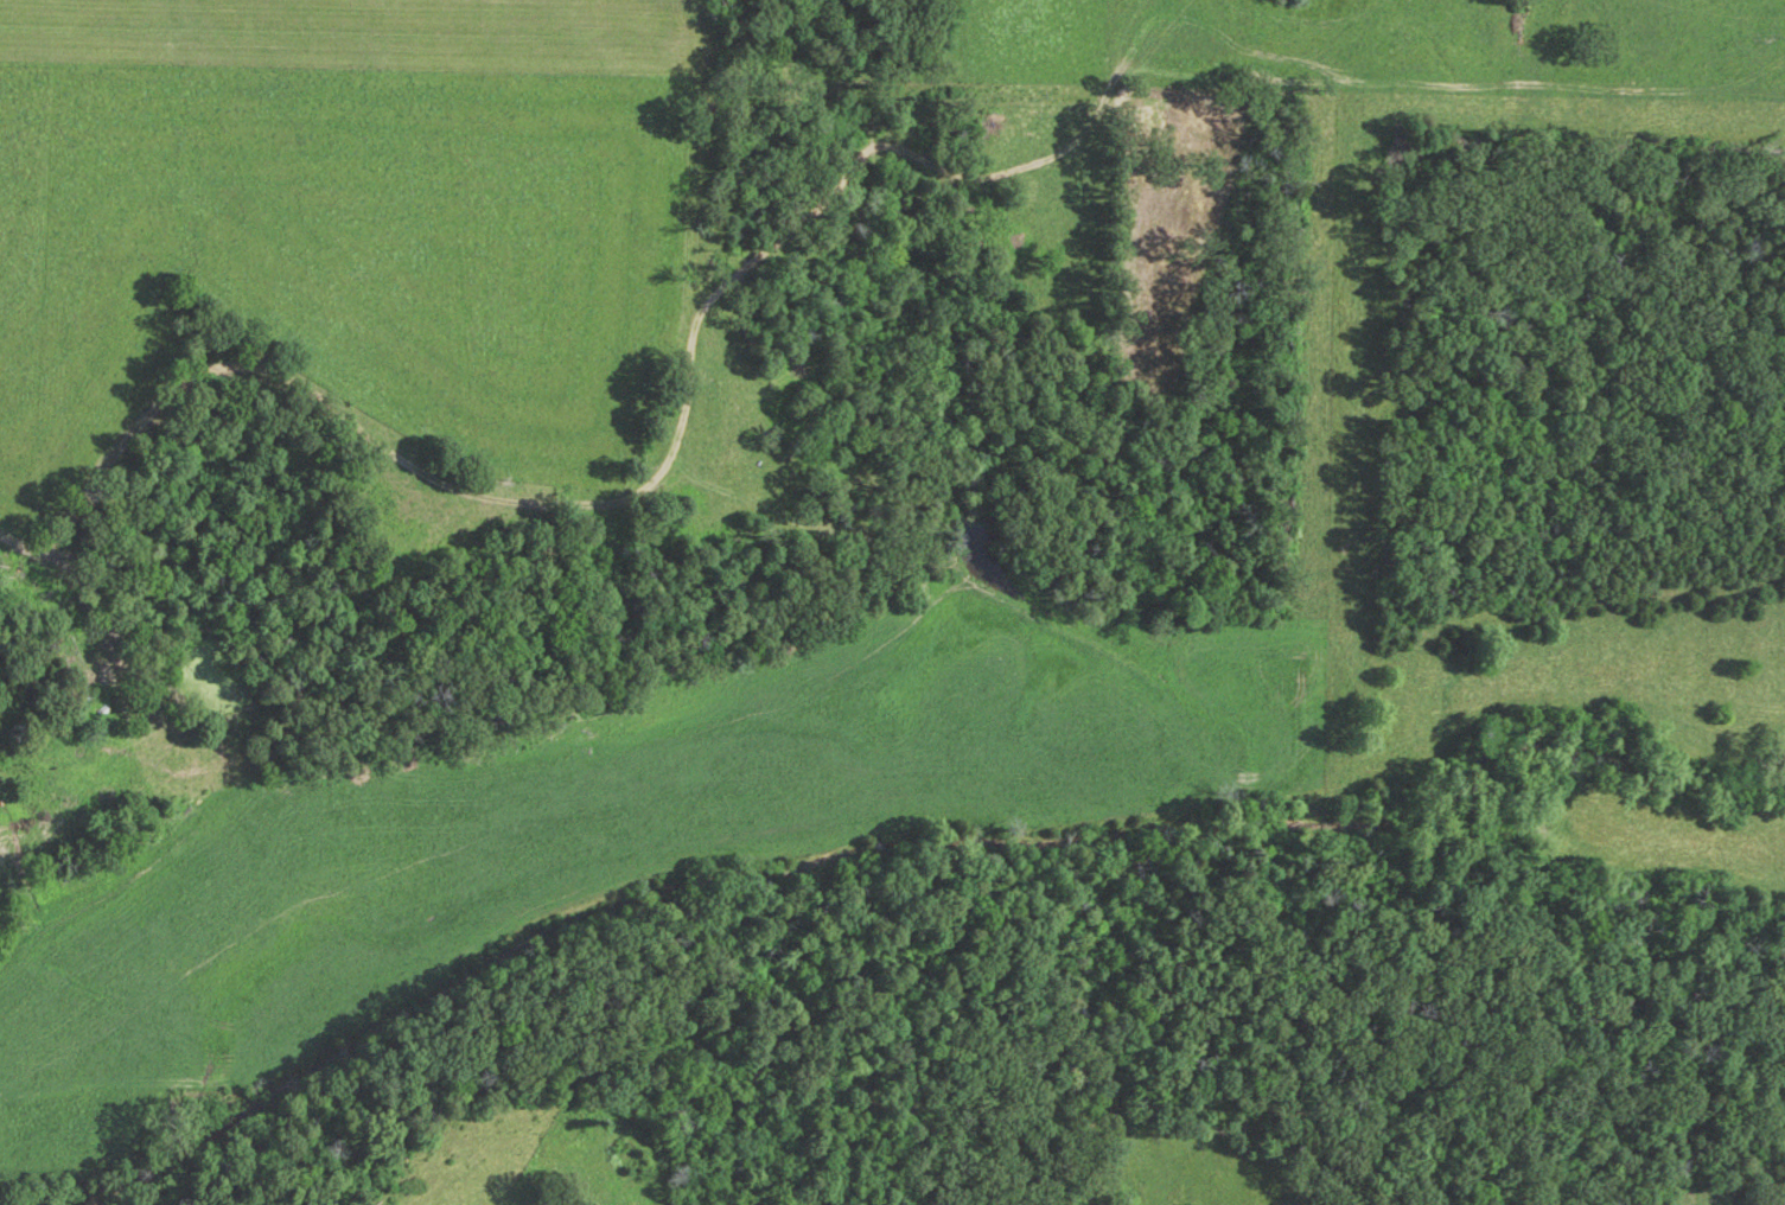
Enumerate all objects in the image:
road: (380, 441)

